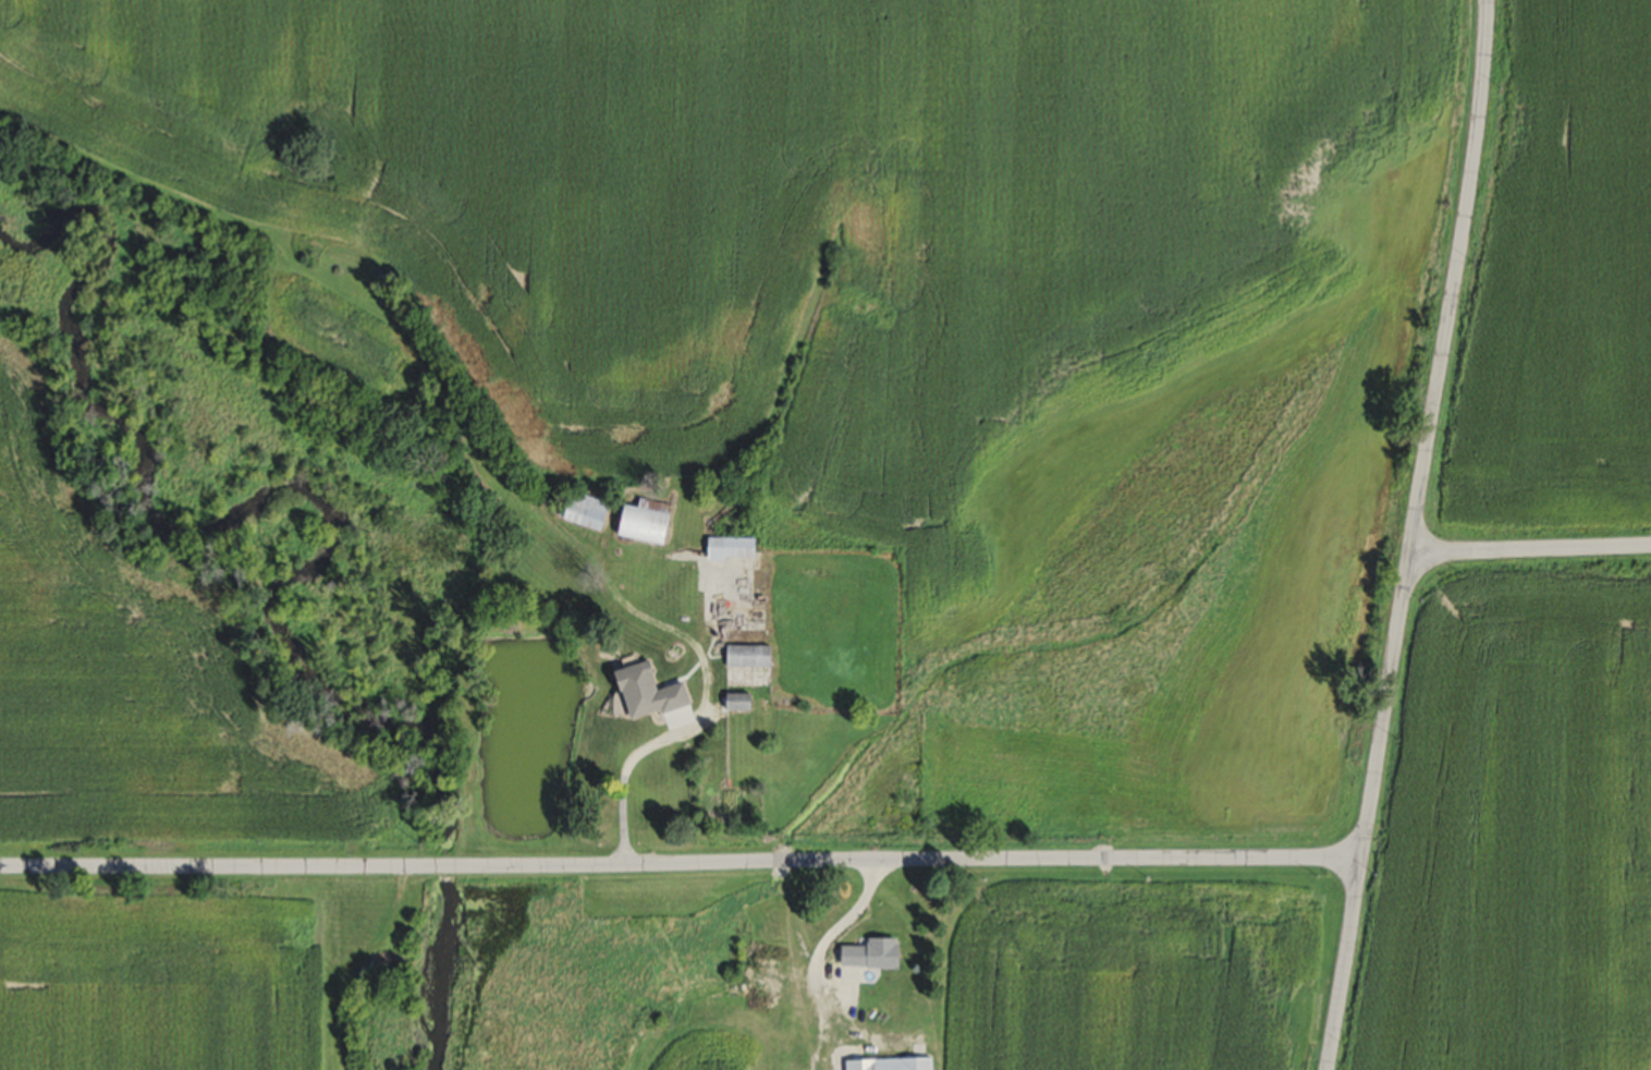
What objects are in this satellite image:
road: (1457, 275)
building: (589, 509)
building: (650, 521)
building: (734, 547)
road: (1532, 547)
building: (751, 655)
building: (653, 691)
building: (742, 701)
road: (1387, 708)
road: (635, 756)
road: (681, 865)
road: (823, 934)
building: (867, 955)
road: (1345, 969)
building: (892, 1063)

